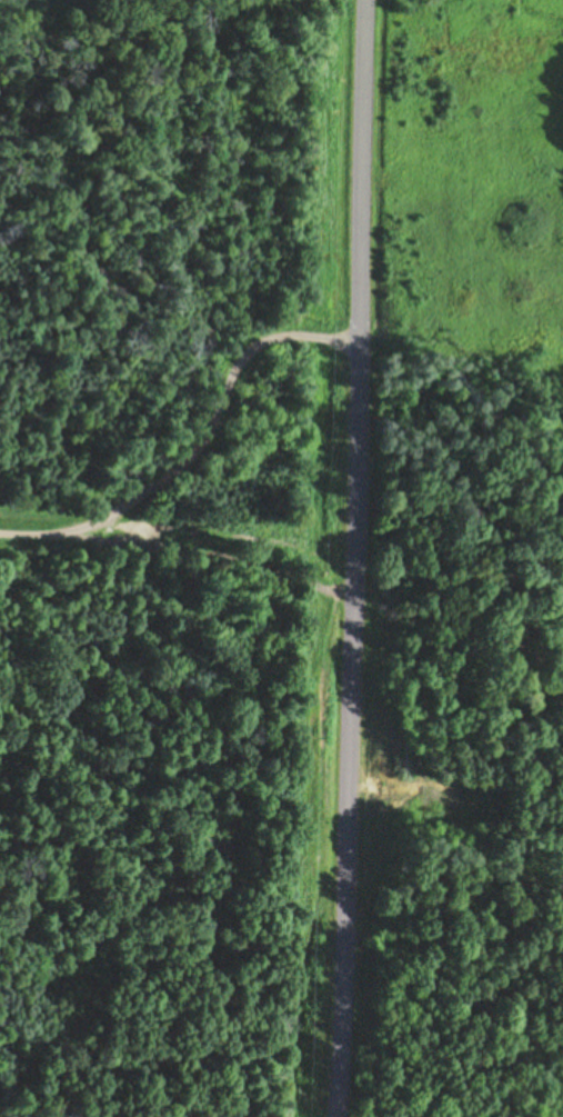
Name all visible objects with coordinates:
road: (356, 558)

